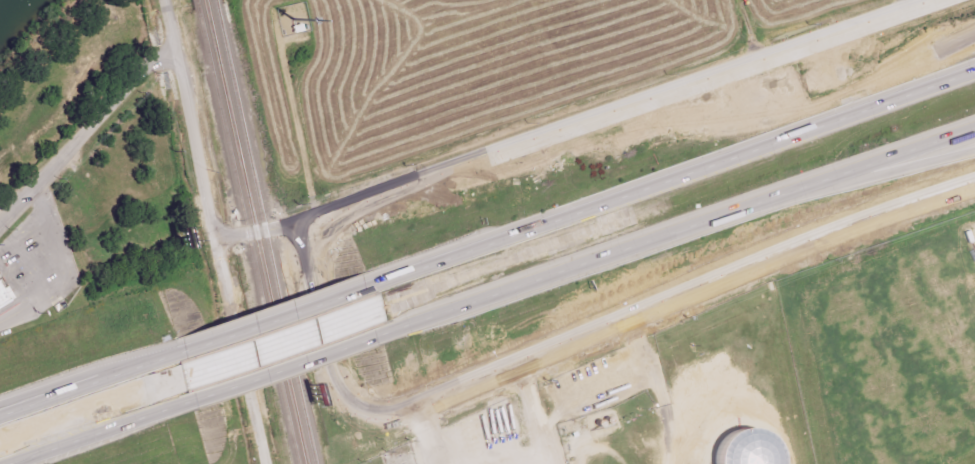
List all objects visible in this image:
road: (855, 94)
road: (615, 111)
road: (82, 131)
road: (664, 180)
road: (252, 230)
railway: (252, 231)
road: (210, 232)
railway: (243, 232)
railway: (261, 232)
road: (679, 232)
road: (21, 294)
building: (4, 298)
parking lot: (15, 301)
road: (664, 304)
road: (314, 320)
road: (270, 321)
road: (289, 369)
road: (93, 383)
road: (539, 416)
road: (105, 433)
building: (738, 448)

